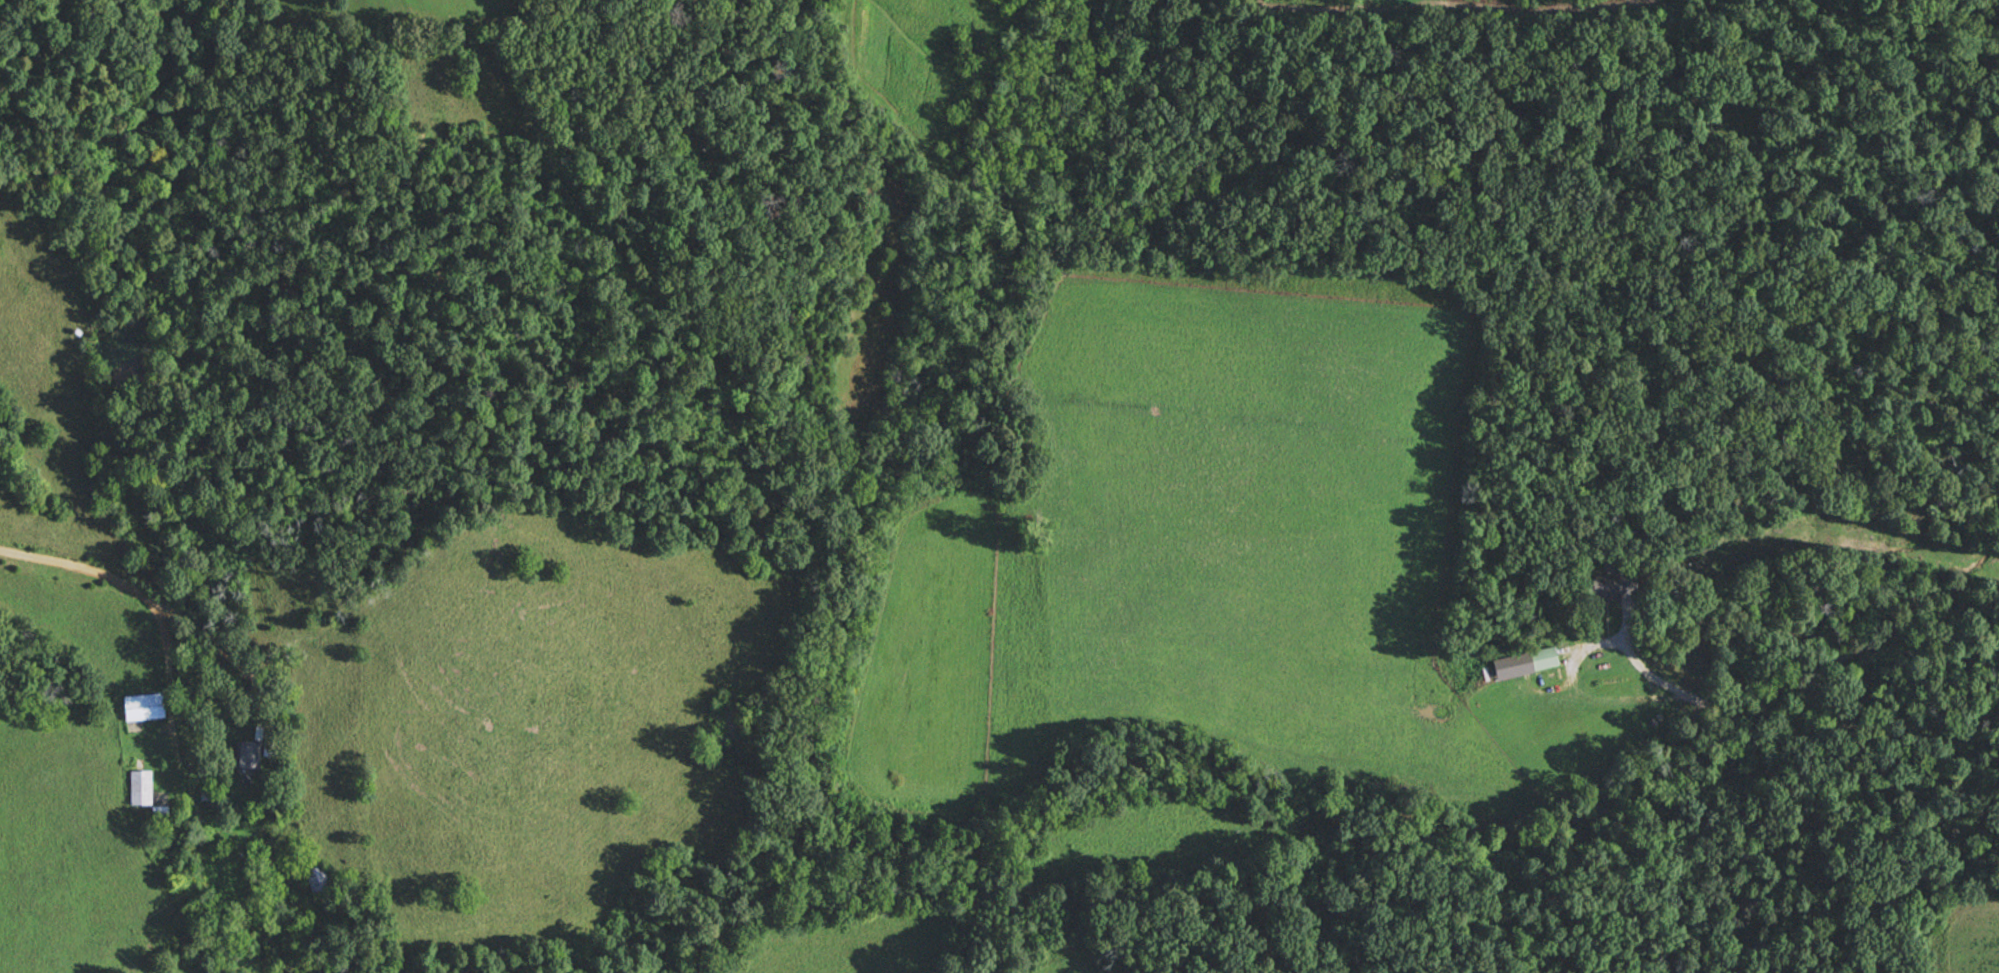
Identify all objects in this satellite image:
building: (1608, 588)
road: (159, 613)
road: (1631, 634)
building: (1538, 658)
building: (146, 707)
building: (251, 754)
building: (142, 787)
building: (319, 880)

